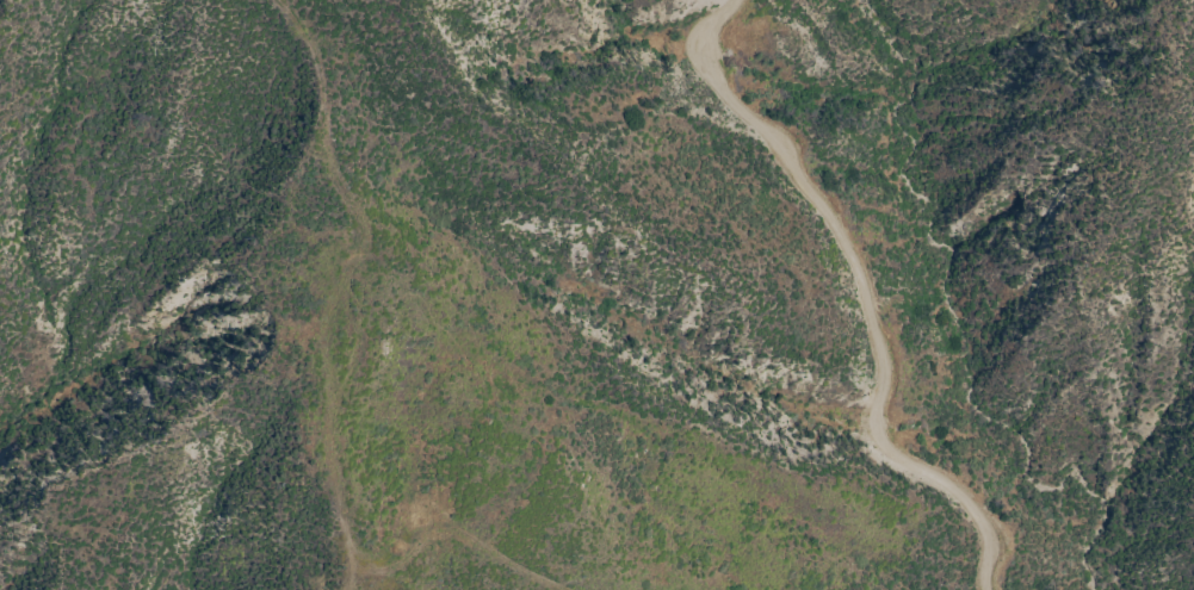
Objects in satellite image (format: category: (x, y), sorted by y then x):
road: (862, 291)

